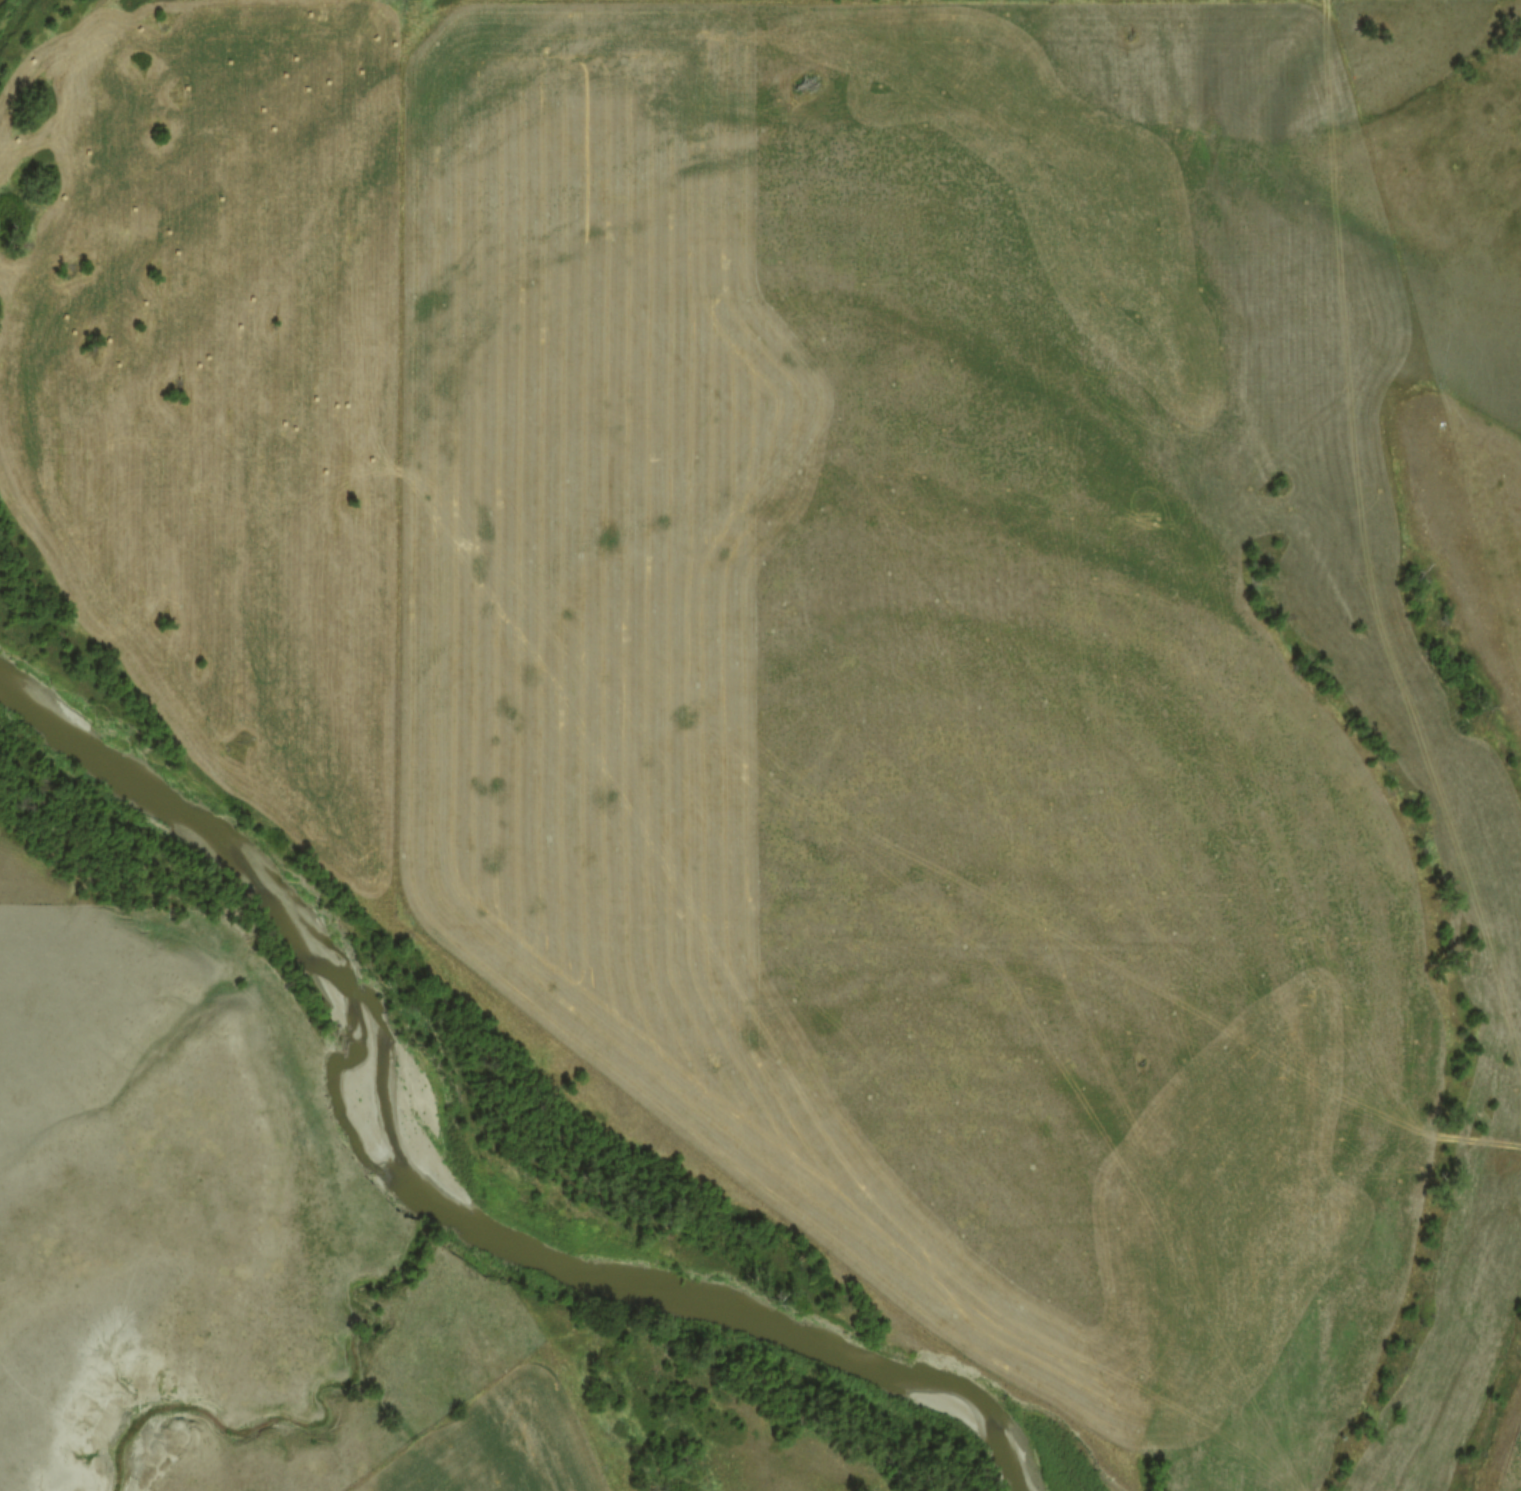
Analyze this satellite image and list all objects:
river: (433, 1199)

